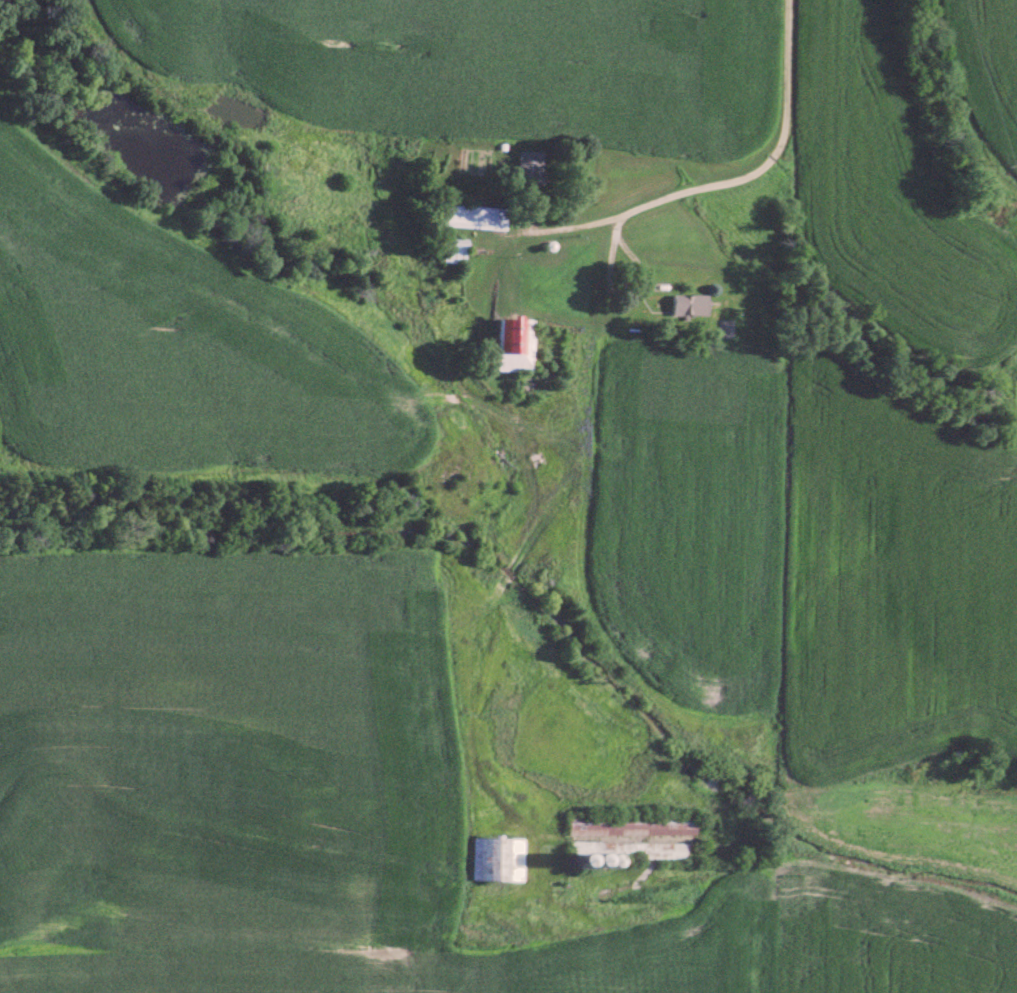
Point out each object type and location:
building: (528, 167)
road: (666, 194)
building: (471, 215)
building: (689, 303)
building: (516, 344)
building: (645, 825)
building: (649, 850)
building: (498, 859)

